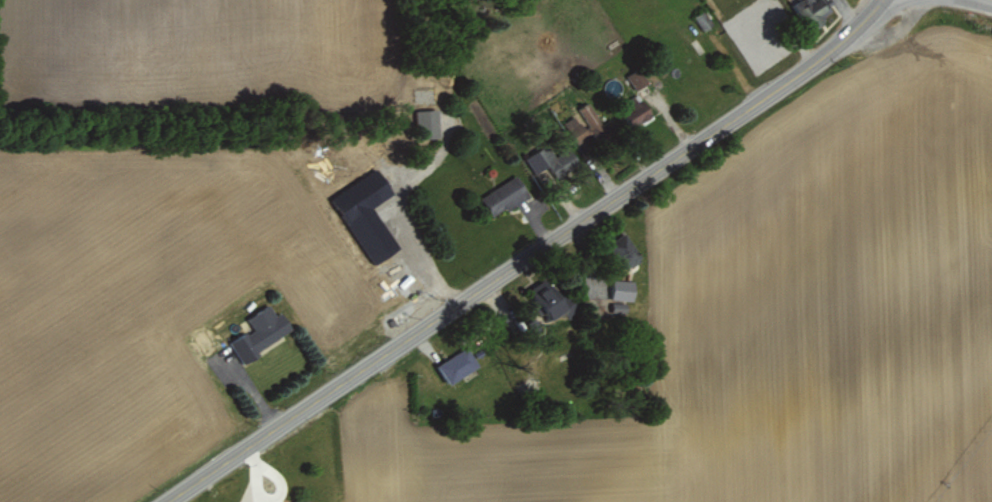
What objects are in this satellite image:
road: (988, 1)
building: (806, 9)
building: (700, 21)
building: (635, 77)
building: (634, 110)
building: (427, 123)
building: (586, 123)
building: (551, 160)
building: (503, 195)
building: (624, 249)
road: (527, 257)
building: (622, 289)
building: (555, 298)
building: (261, 331)
building: (457, 365)
building: (302, 498)

